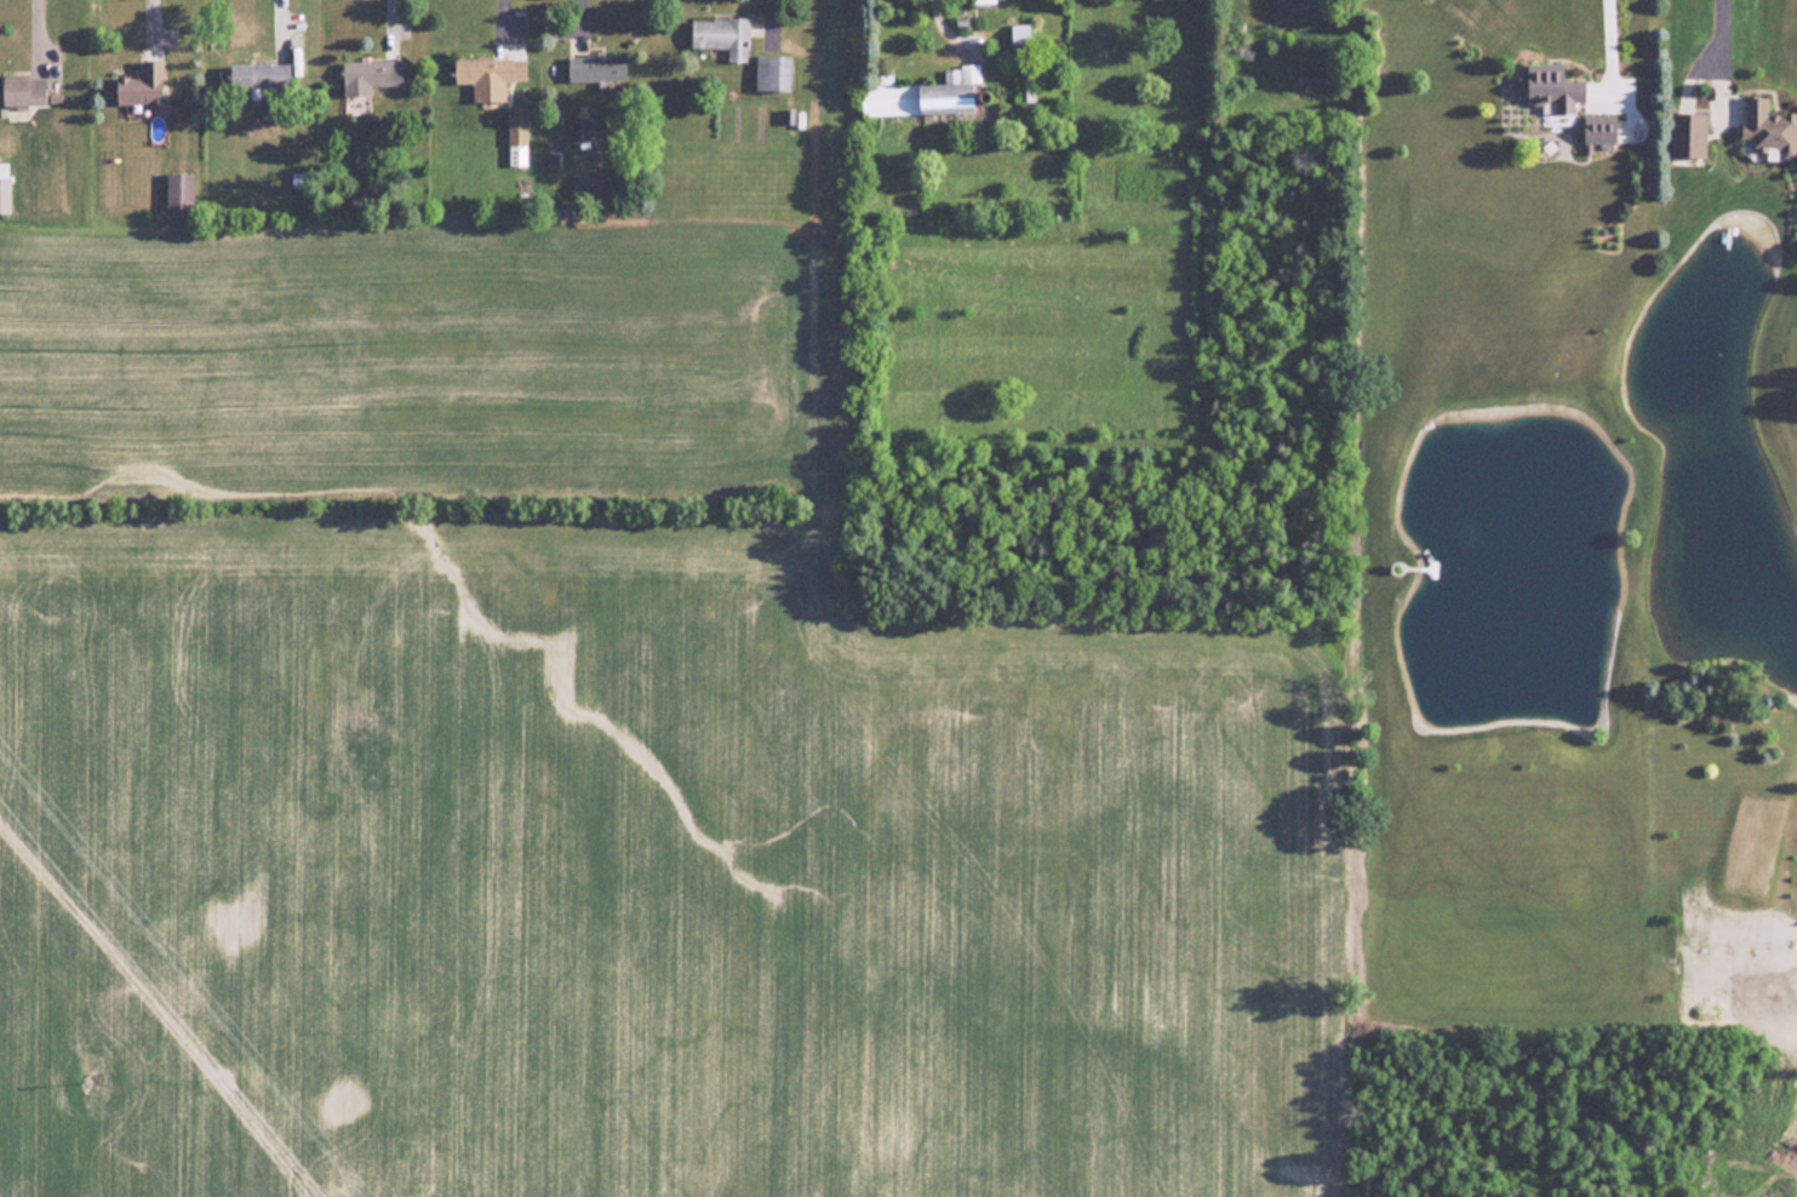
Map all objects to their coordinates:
building: (989, 1)
building: (1300, 8)
road: (35, 33)
building: (1019, 33)
building: (722, 35)
road: (1607, 48)
road: (1717, 50)
building: (597, 65)
building: (773, 73)
building: (490, 75)
building: (261, 76)
building: (370, 76)
building: (1317, 80)
building: (143, 86)
building: (1550, 87)
building: (25, 92)
building: (918, 94)
building: (578, 128)
building: (1601, 130)
building: (1768, 130)
building: (1689, 134)
building: (519, 139)
building: (181, 191)
building: (4, 195)

